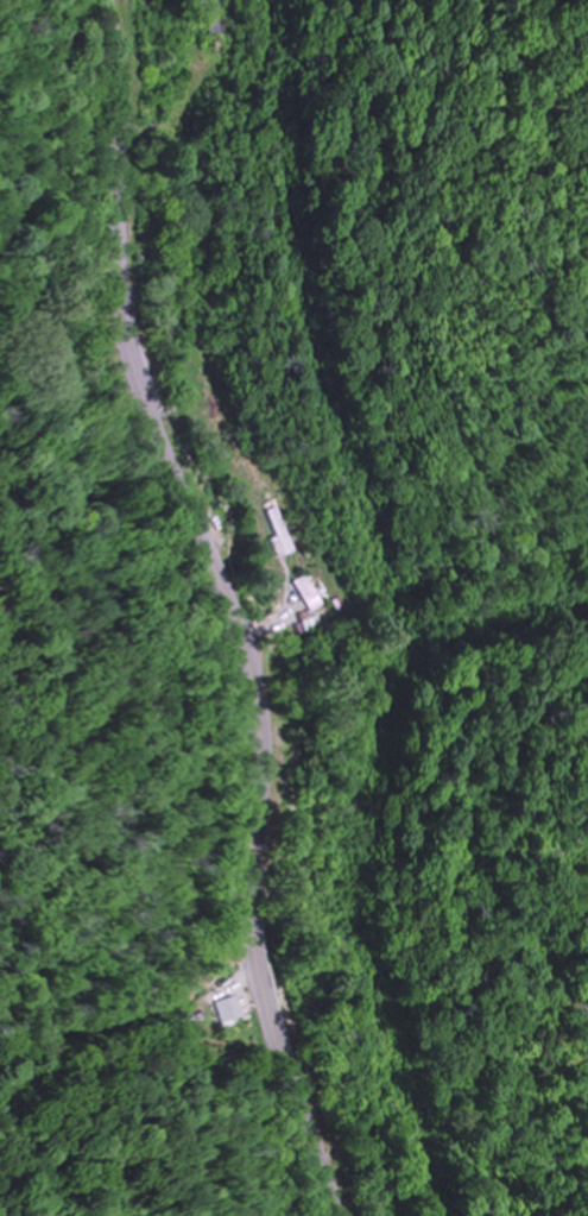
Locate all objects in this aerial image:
road: (261, 600)

